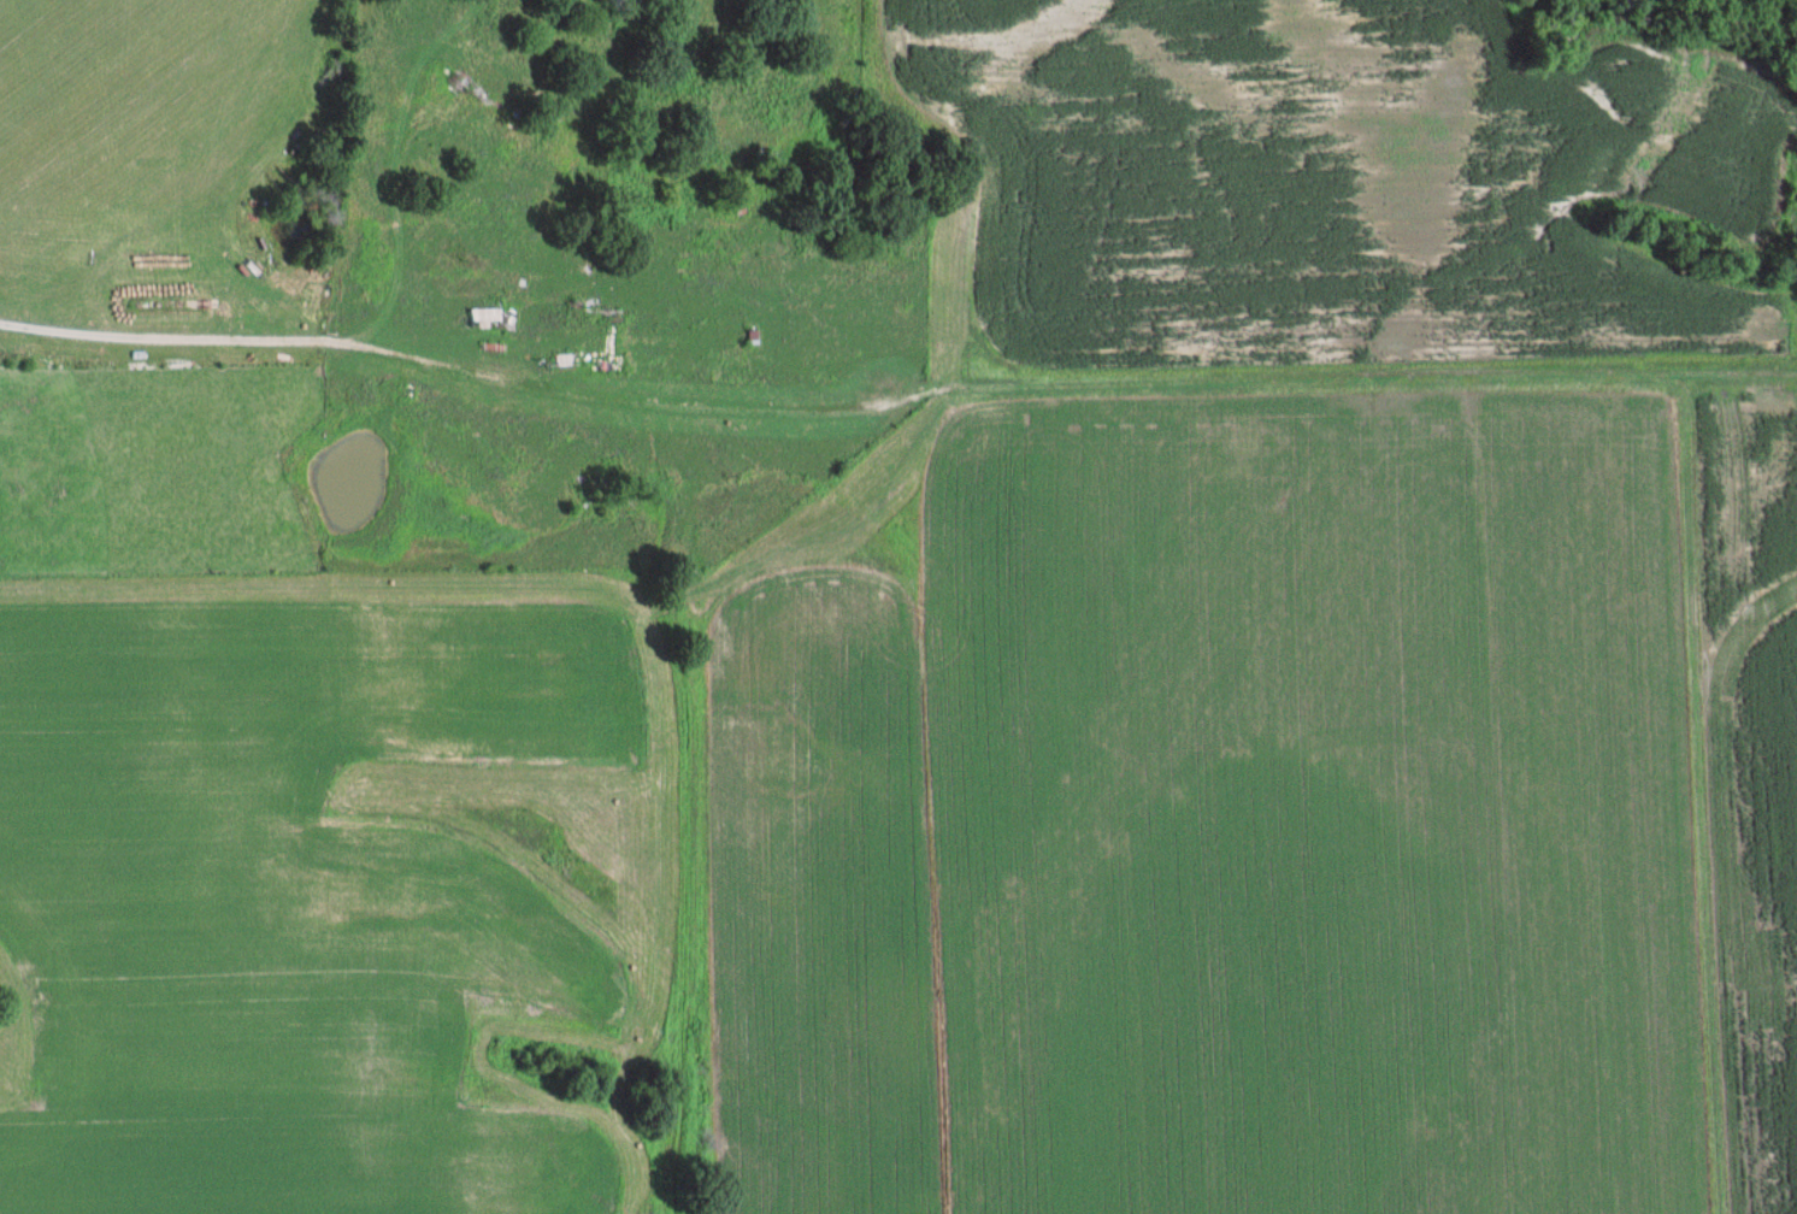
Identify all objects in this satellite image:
building: (489, 317)

